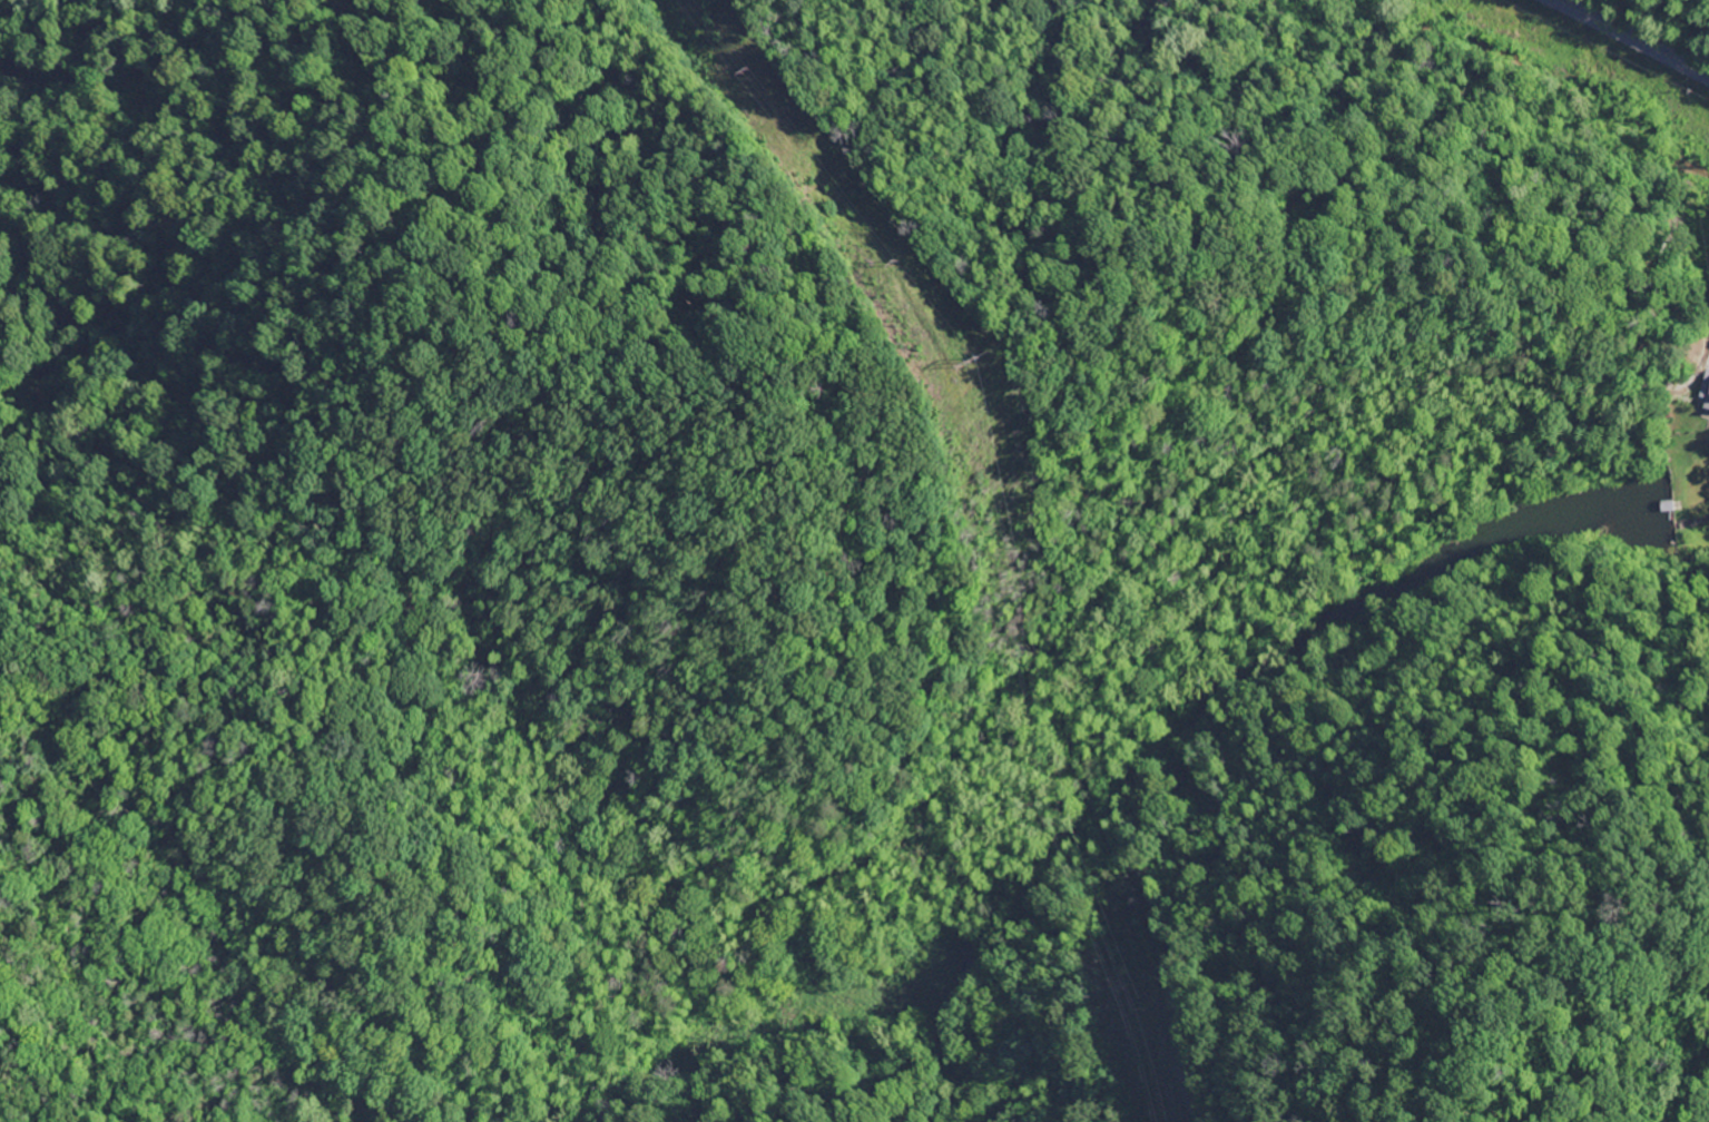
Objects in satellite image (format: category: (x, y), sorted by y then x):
road: (1632, 38)

